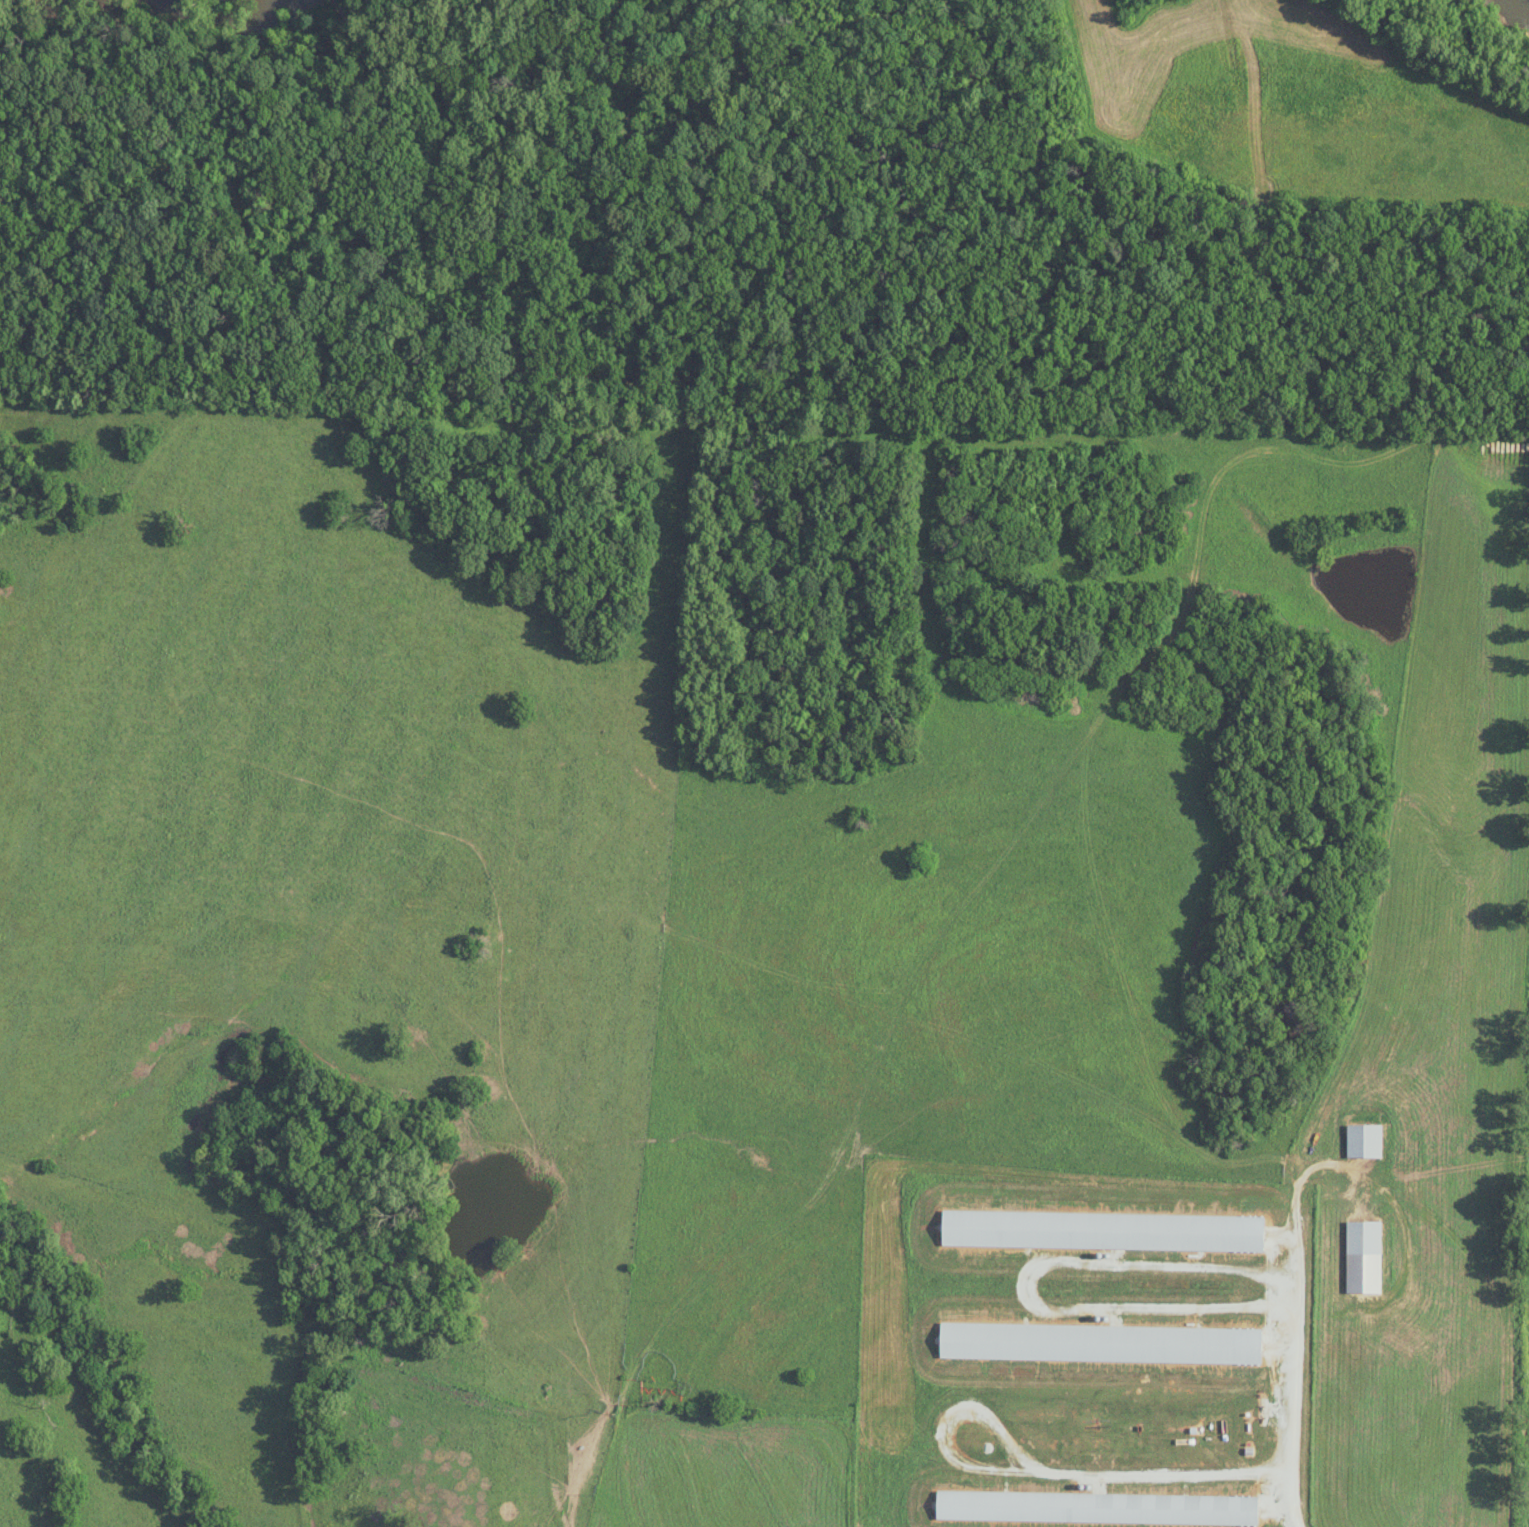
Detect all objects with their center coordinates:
road: (489, 1041)
building: (1363, 1140)
building: (1100, 1230)
building: (1362, 1257)
building: (1098, 1342)
road: (1296, 1358)
road: (1074, 1477)
building: (1095, 1507)

